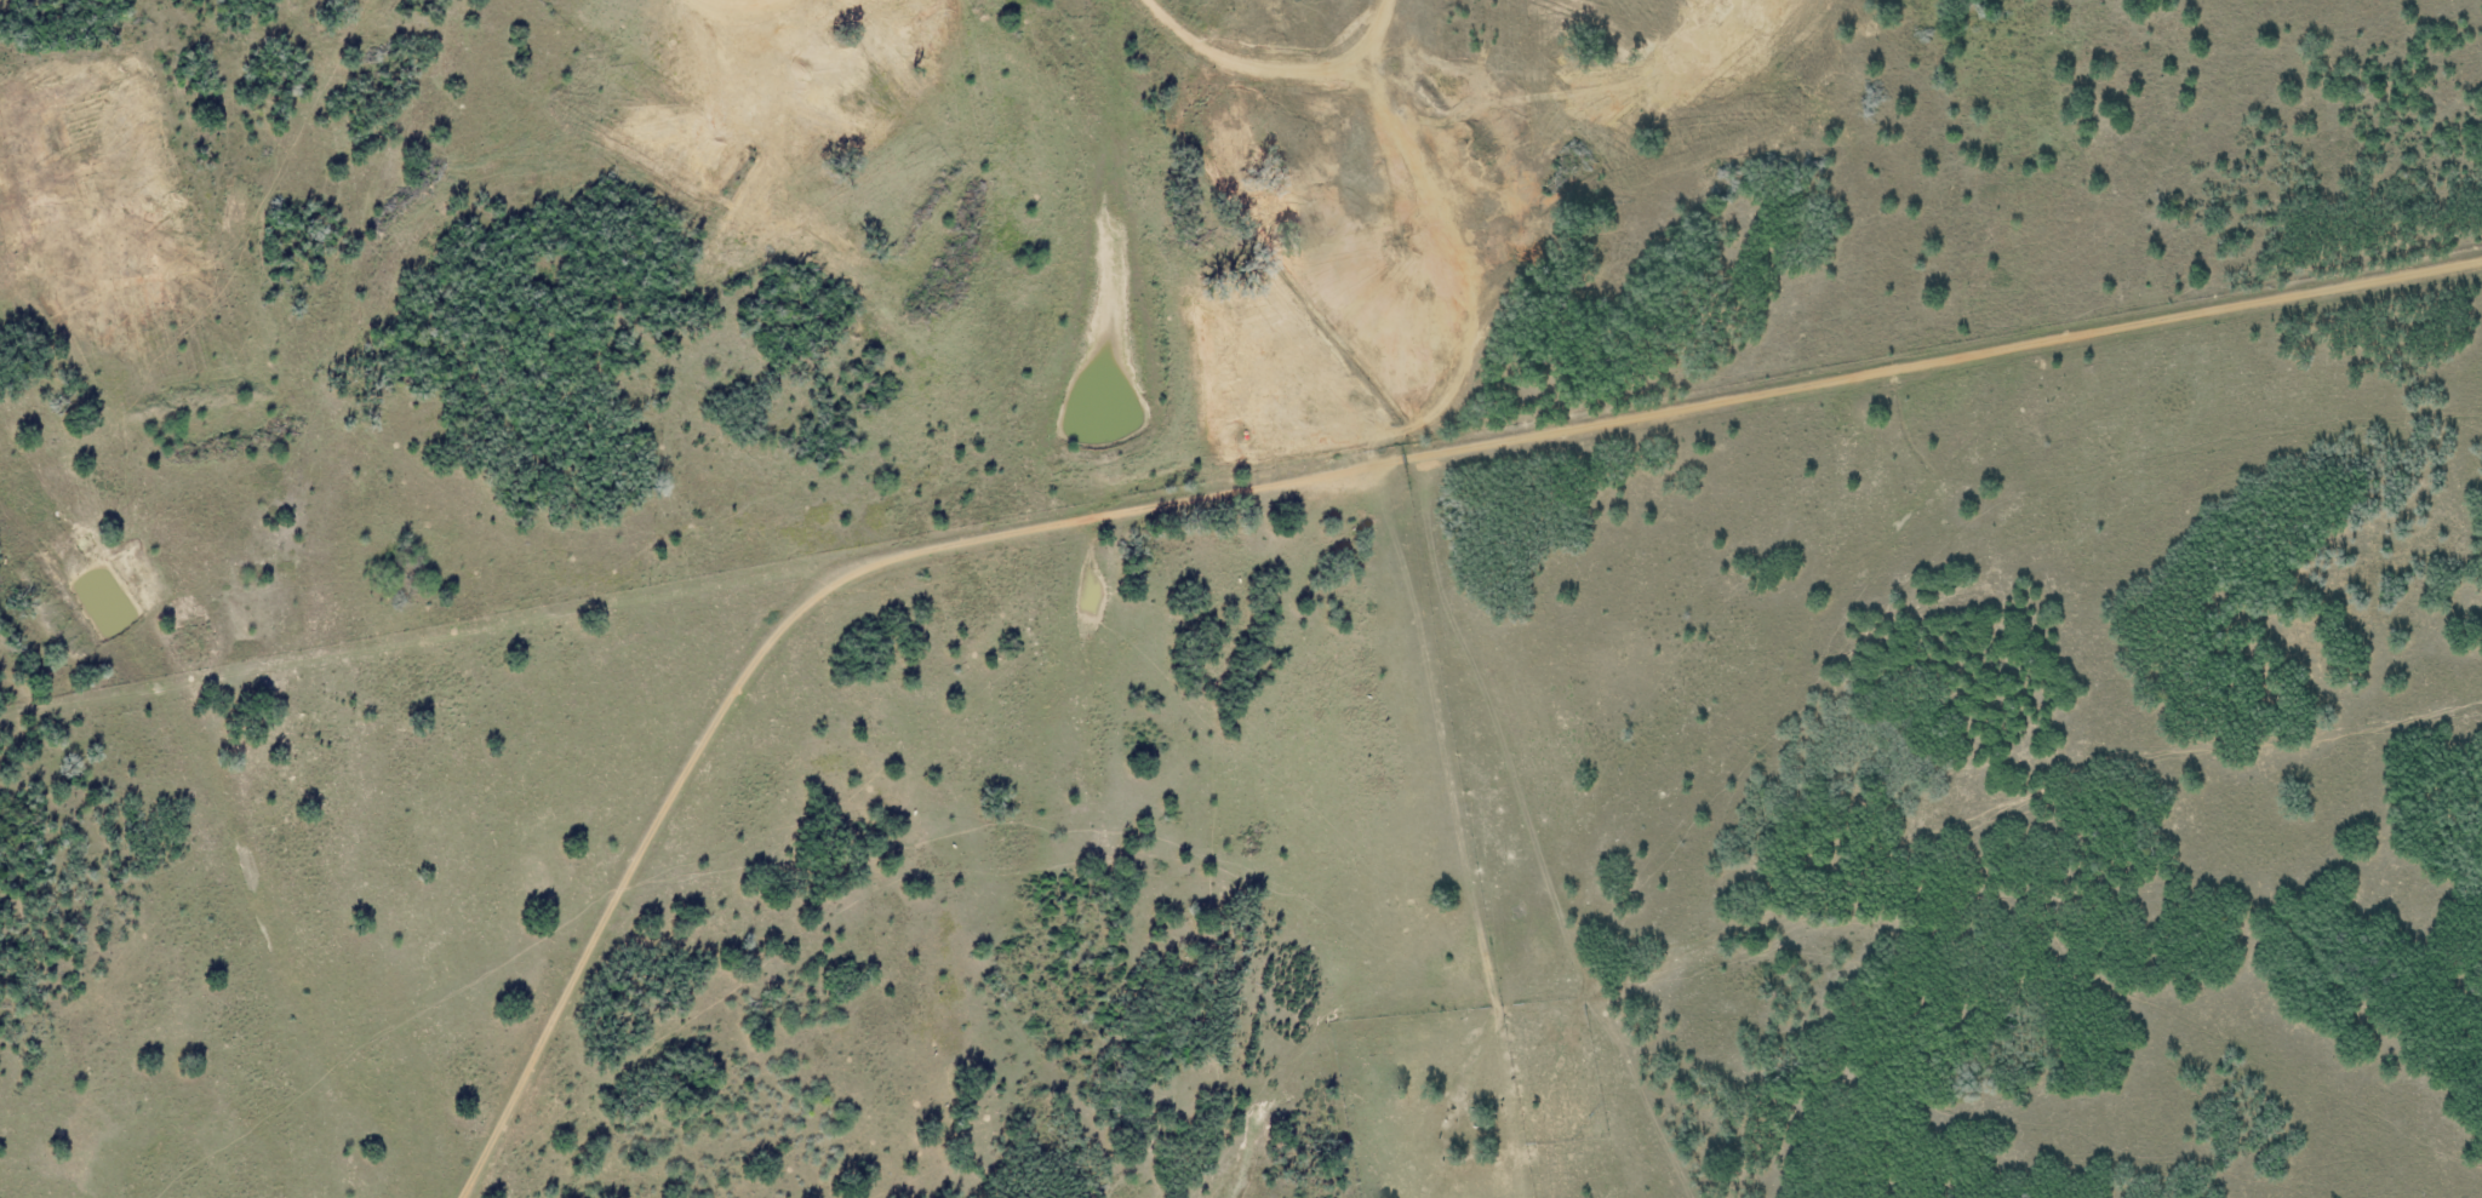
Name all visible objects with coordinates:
road: (1379, 563)

